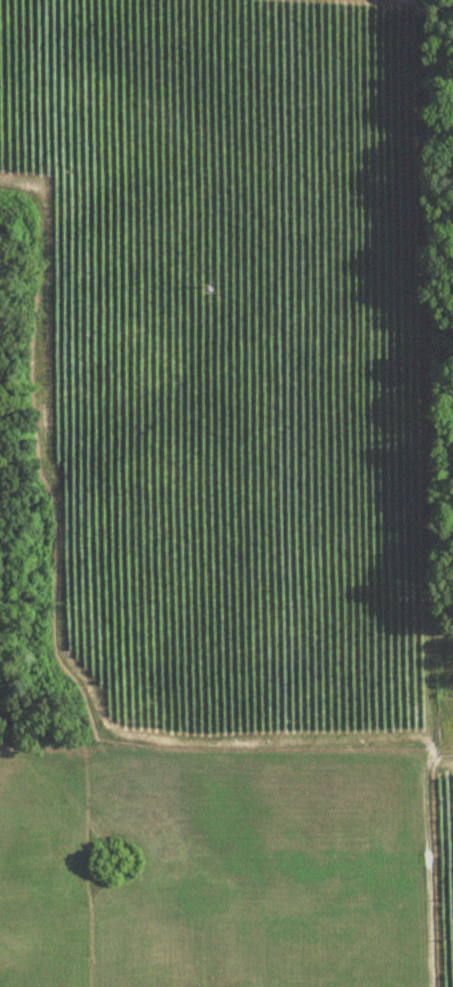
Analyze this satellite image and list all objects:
road: (430, 878)

